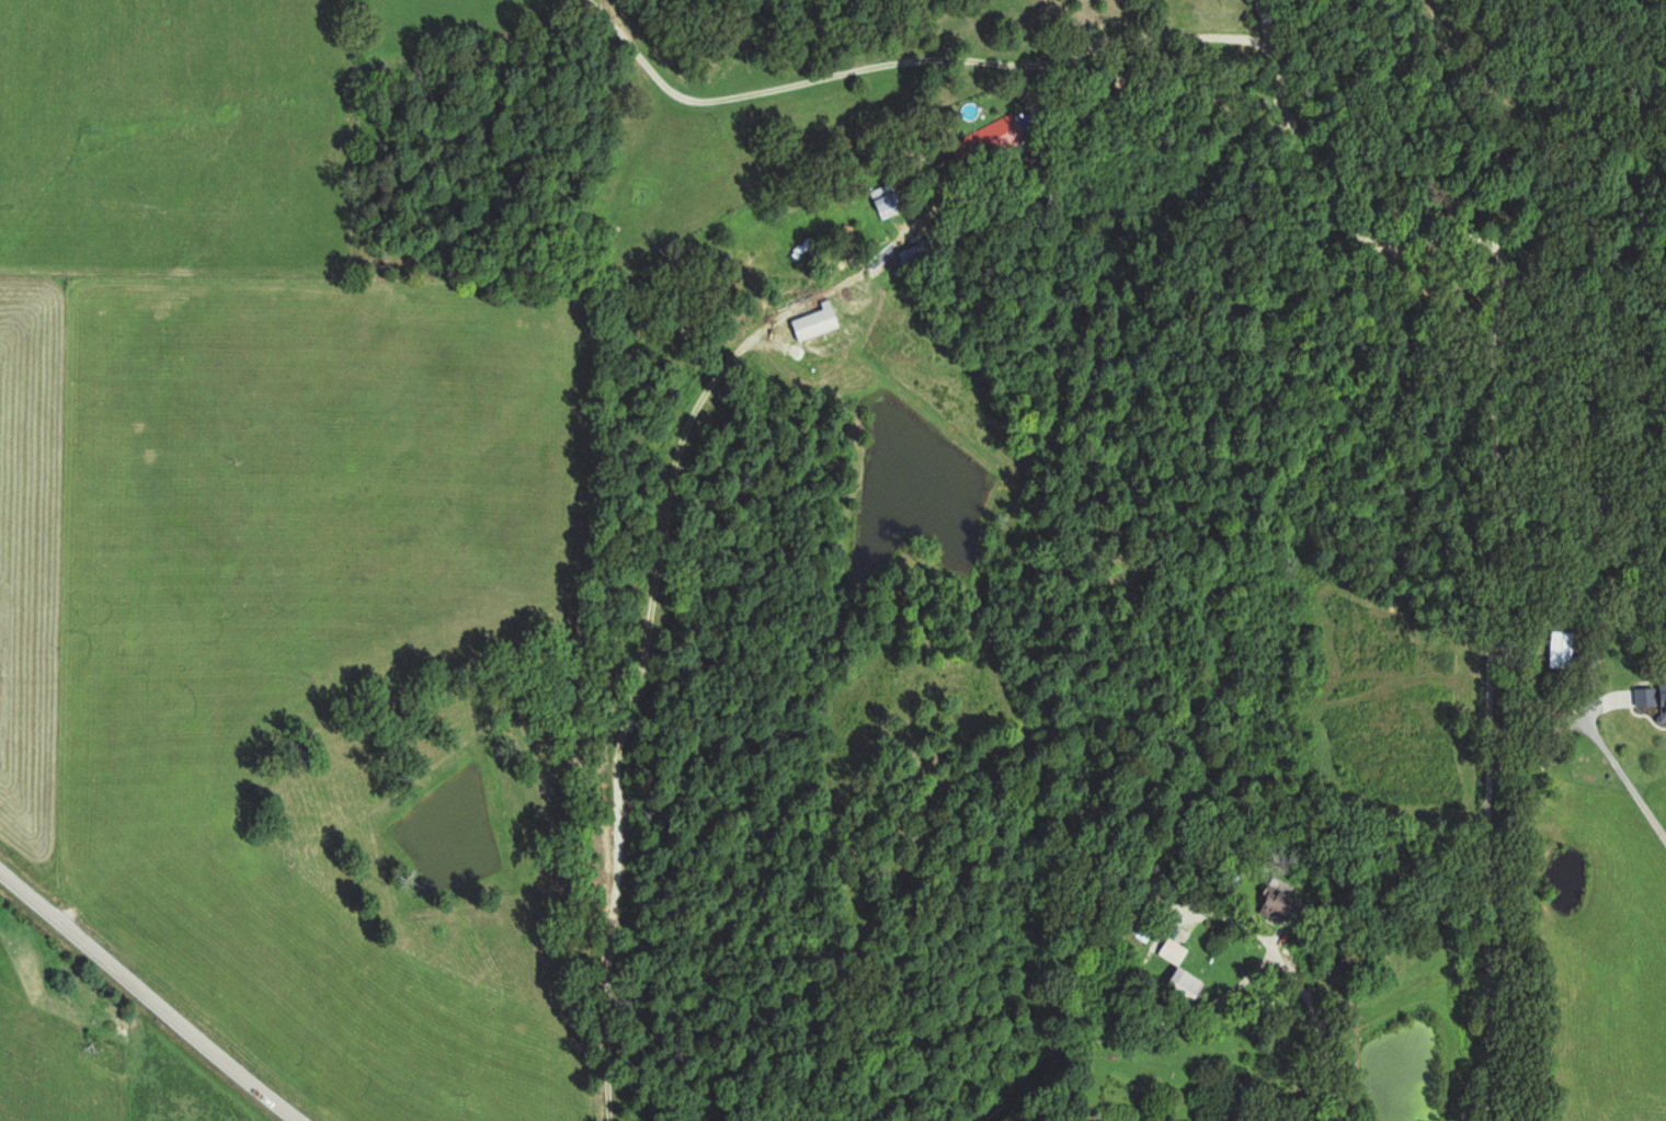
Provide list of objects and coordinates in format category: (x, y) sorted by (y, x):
building: (882, 201)
building: (908, 255)
building: (811, 322)
road: (1502, 505)
building: (1560, 649)
building: (1651, 696)
road: (1618, 763)
building: (1169, 950)
building: (1180, 982)
road: (162, 991)

